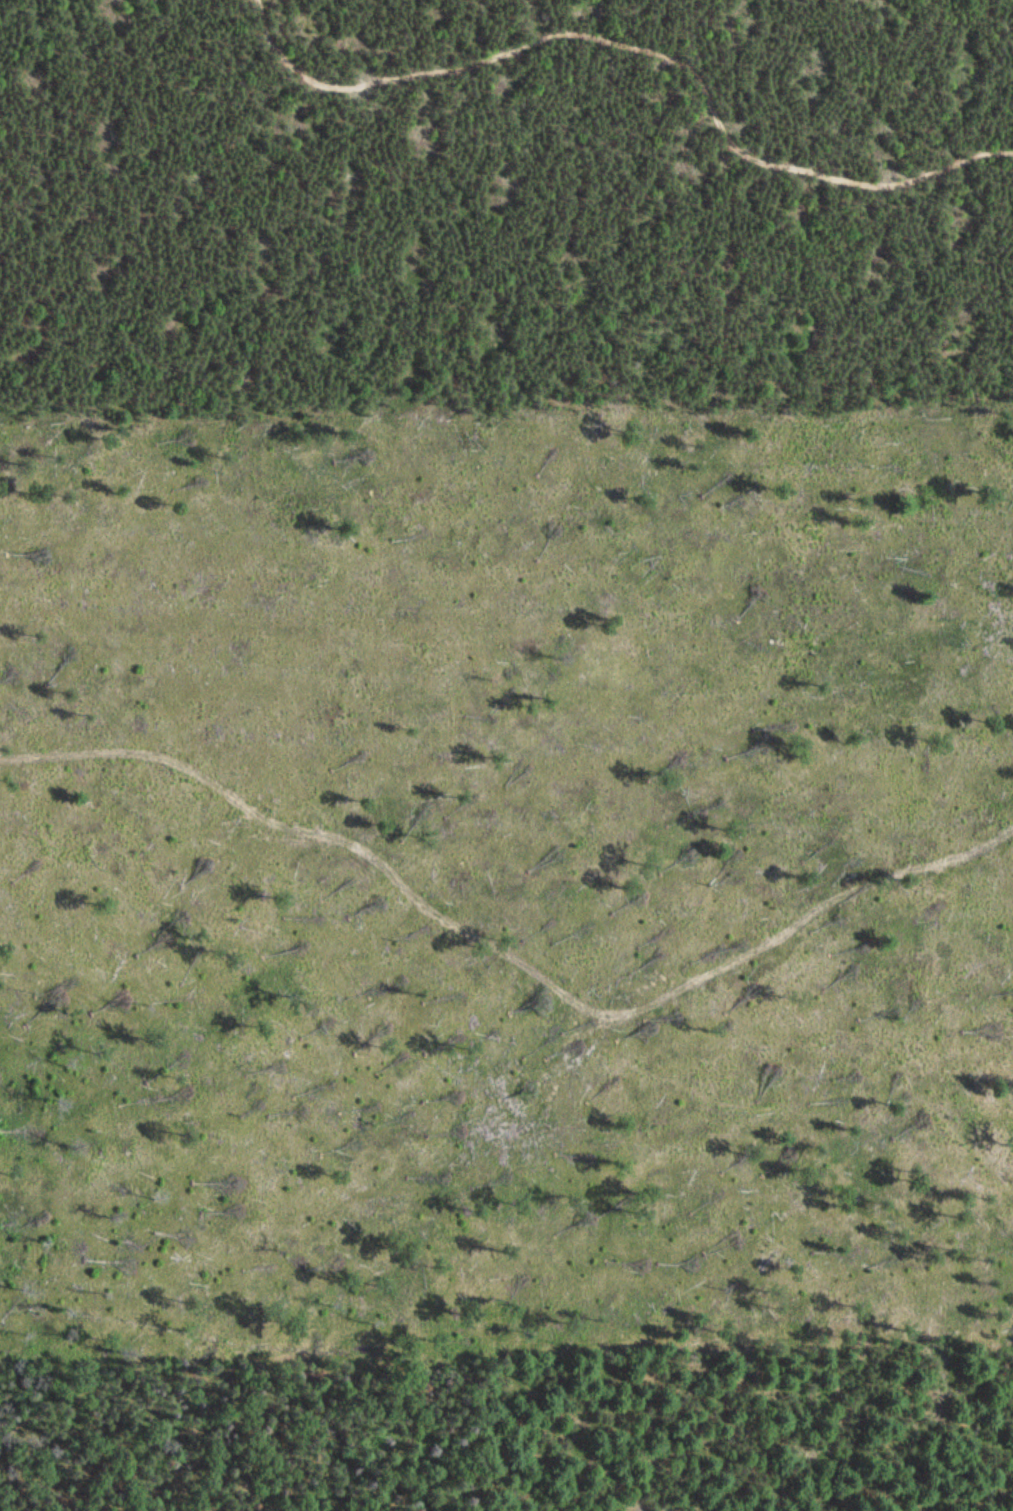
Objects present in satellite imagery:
road: (635, 48)

